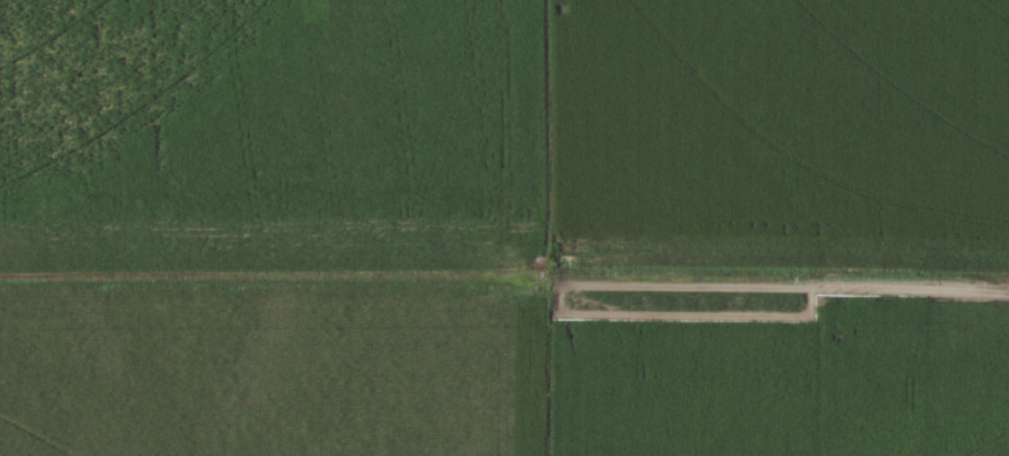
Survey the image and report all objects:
crop: (504, 228)

